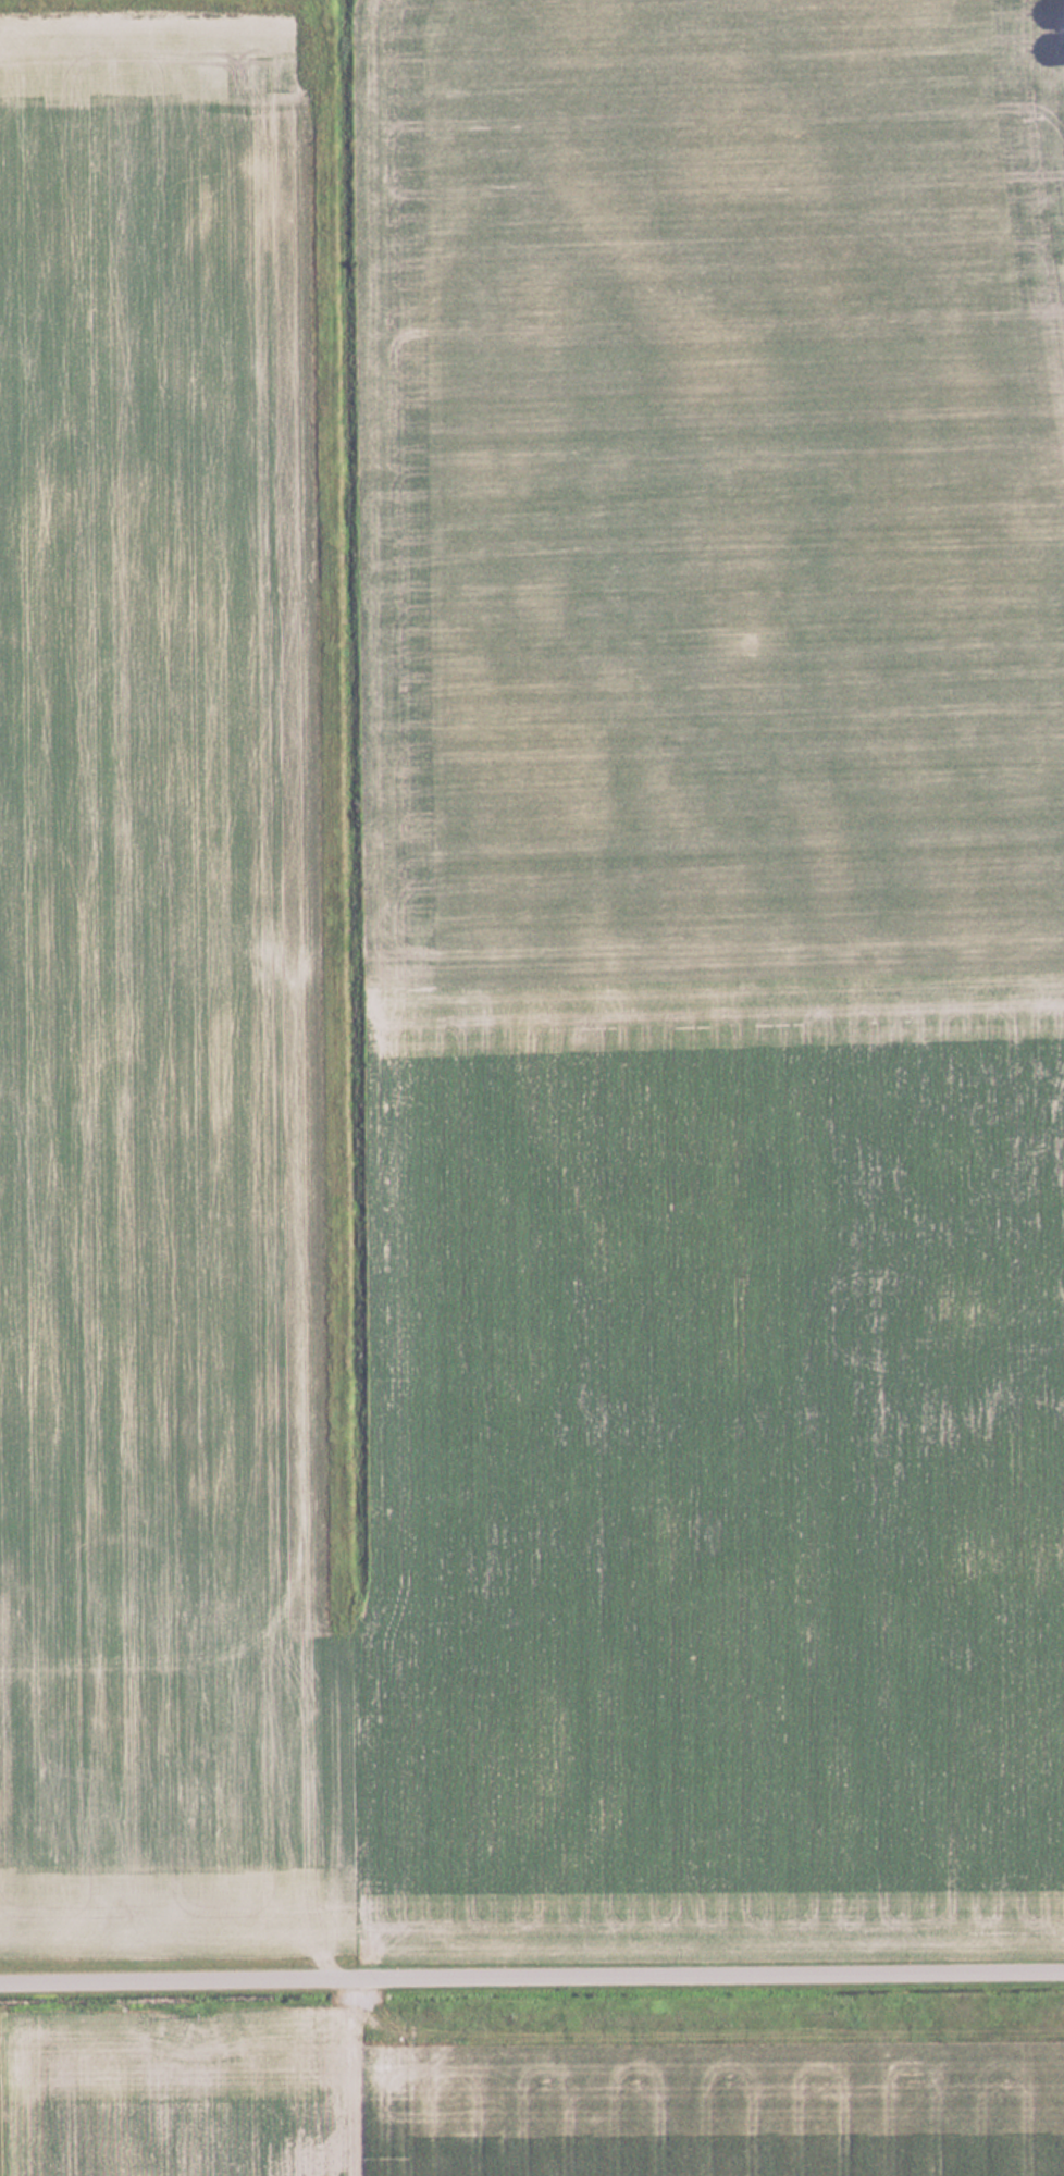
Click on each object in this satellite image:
road: (531, 1981)

